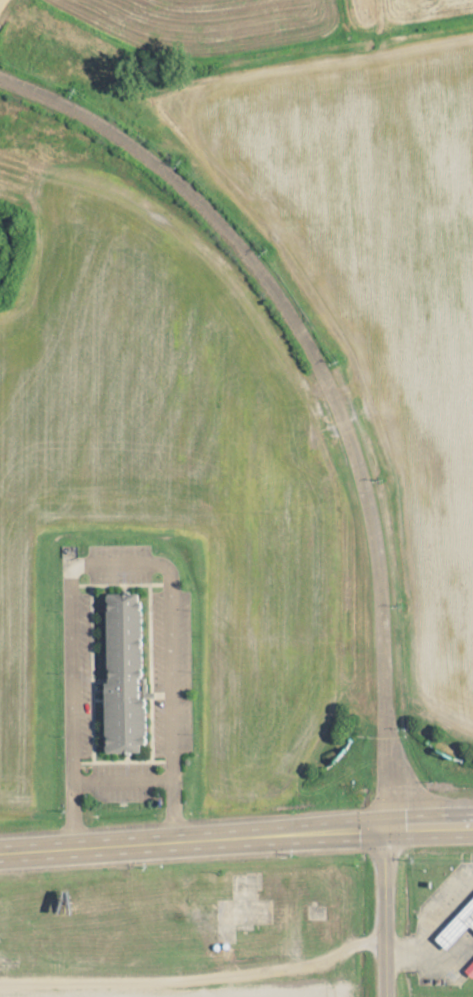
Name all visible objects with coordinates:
road: (2, 9)
road: (356, 149)
road: (325, 382)
road: (116, 560)
building: (126, 674)
road: (428, 827)
traffic signals: (383, 829)
road: (191, 844)
road: (381, 913)
road: (432, 927)
building: (459, 931)
building: (471, 968)
gas station: (471, 968)
road: (194, 977)

